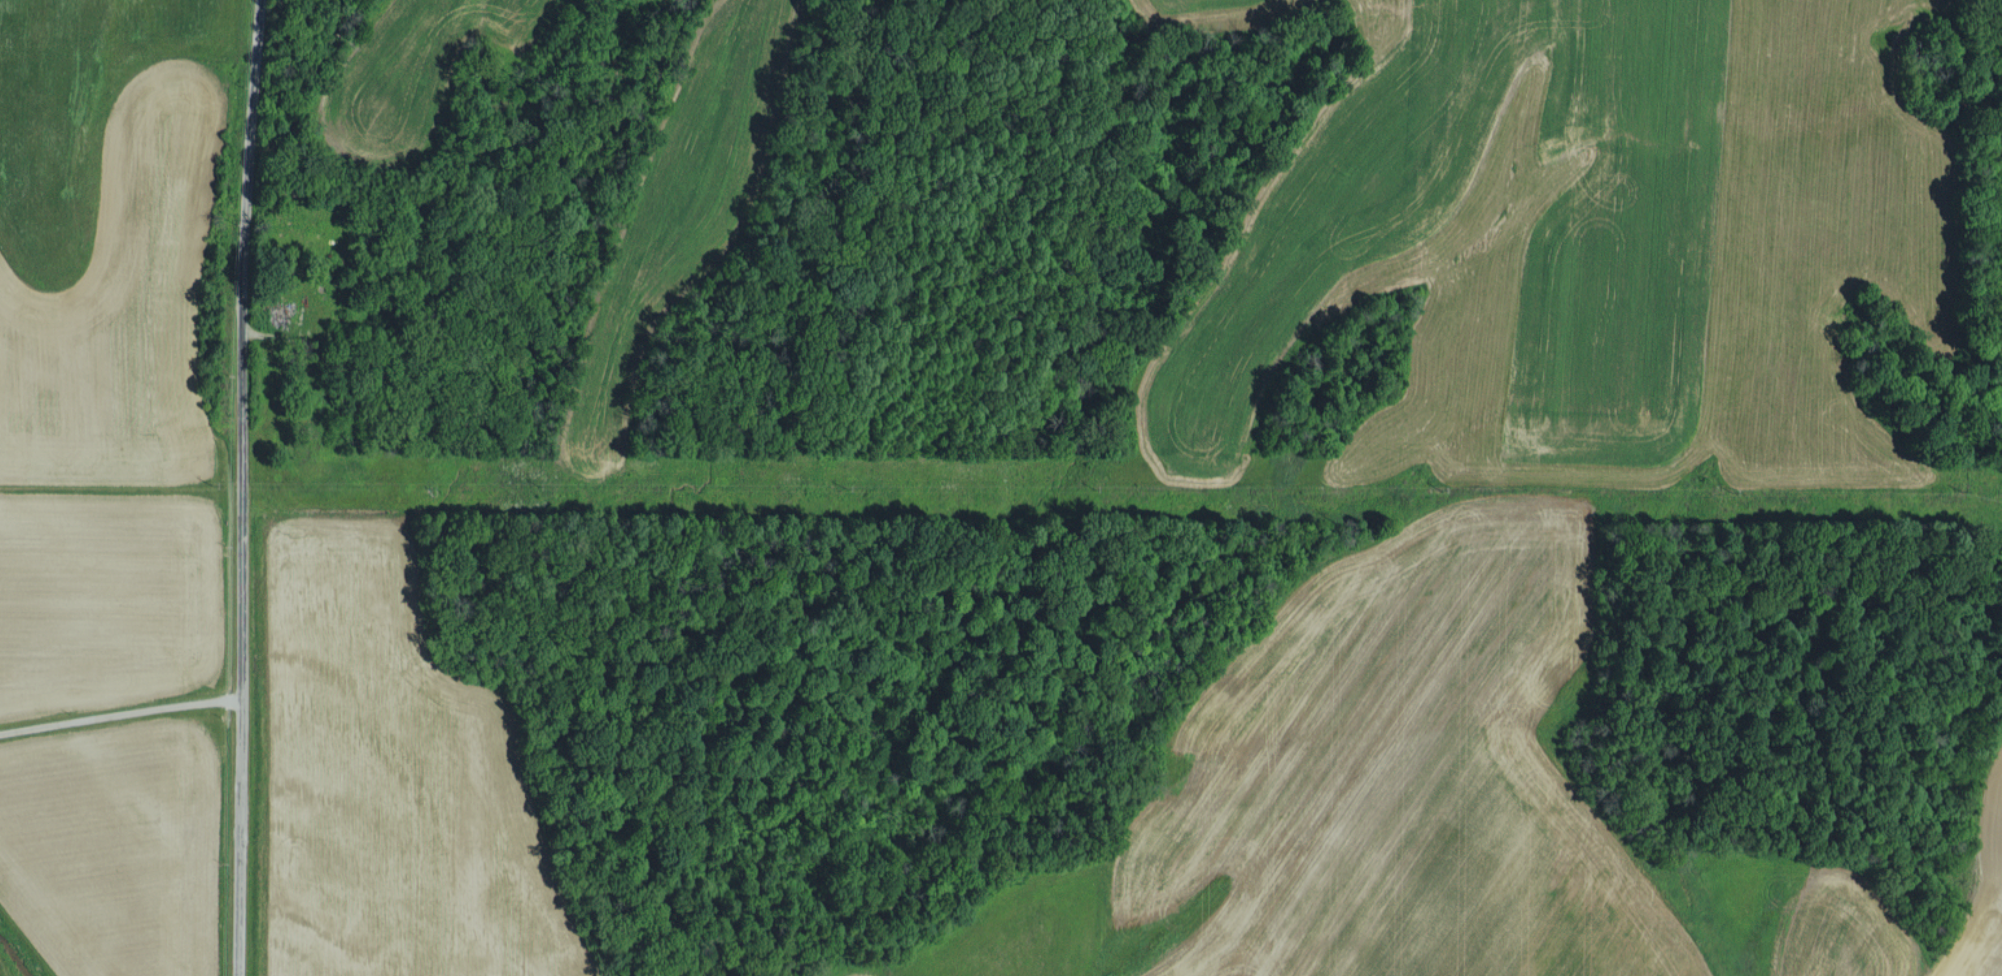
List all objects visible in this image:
road: (234, 487)

